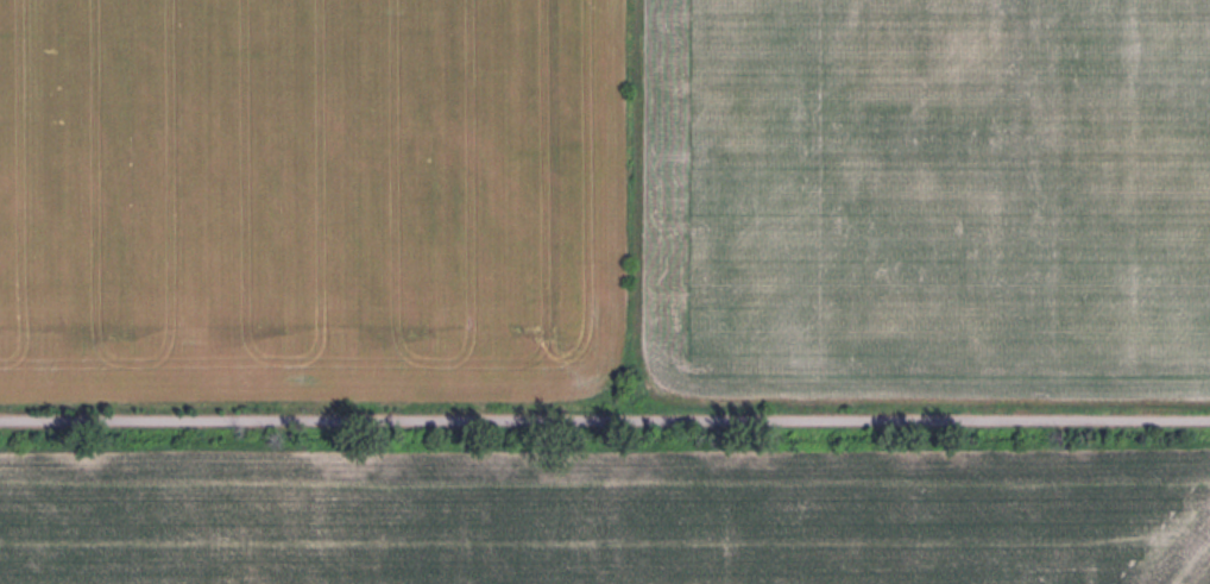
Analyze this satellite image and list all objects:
road: (604, 415)

